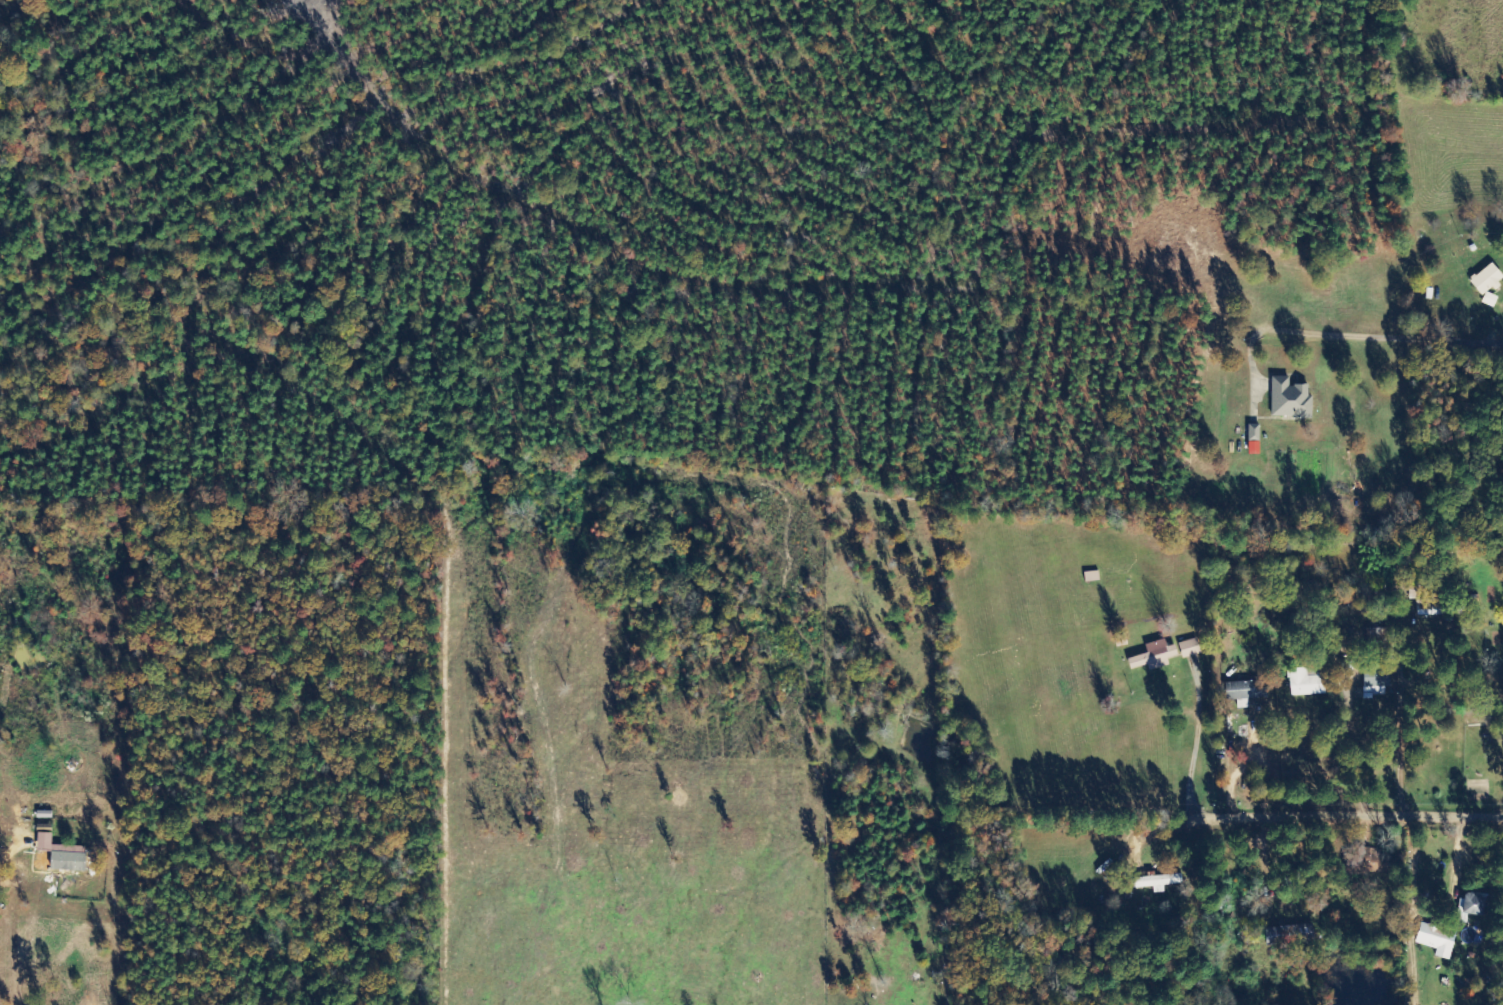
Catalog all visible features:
building: (1487, 279)
building: (1290, 398)
building: (1254, 432)
building: (1426, 599)
building: (1189, 648)
building: (1155, 656)
building: (1377, 678)
building: (1306, 683)
building: (1246, 691)
road: (1350, 817)
building: (59, 856)
building: (1158, 882)
building: (1475, 904)
building: (1290, 934)
building: (1435, 940)

